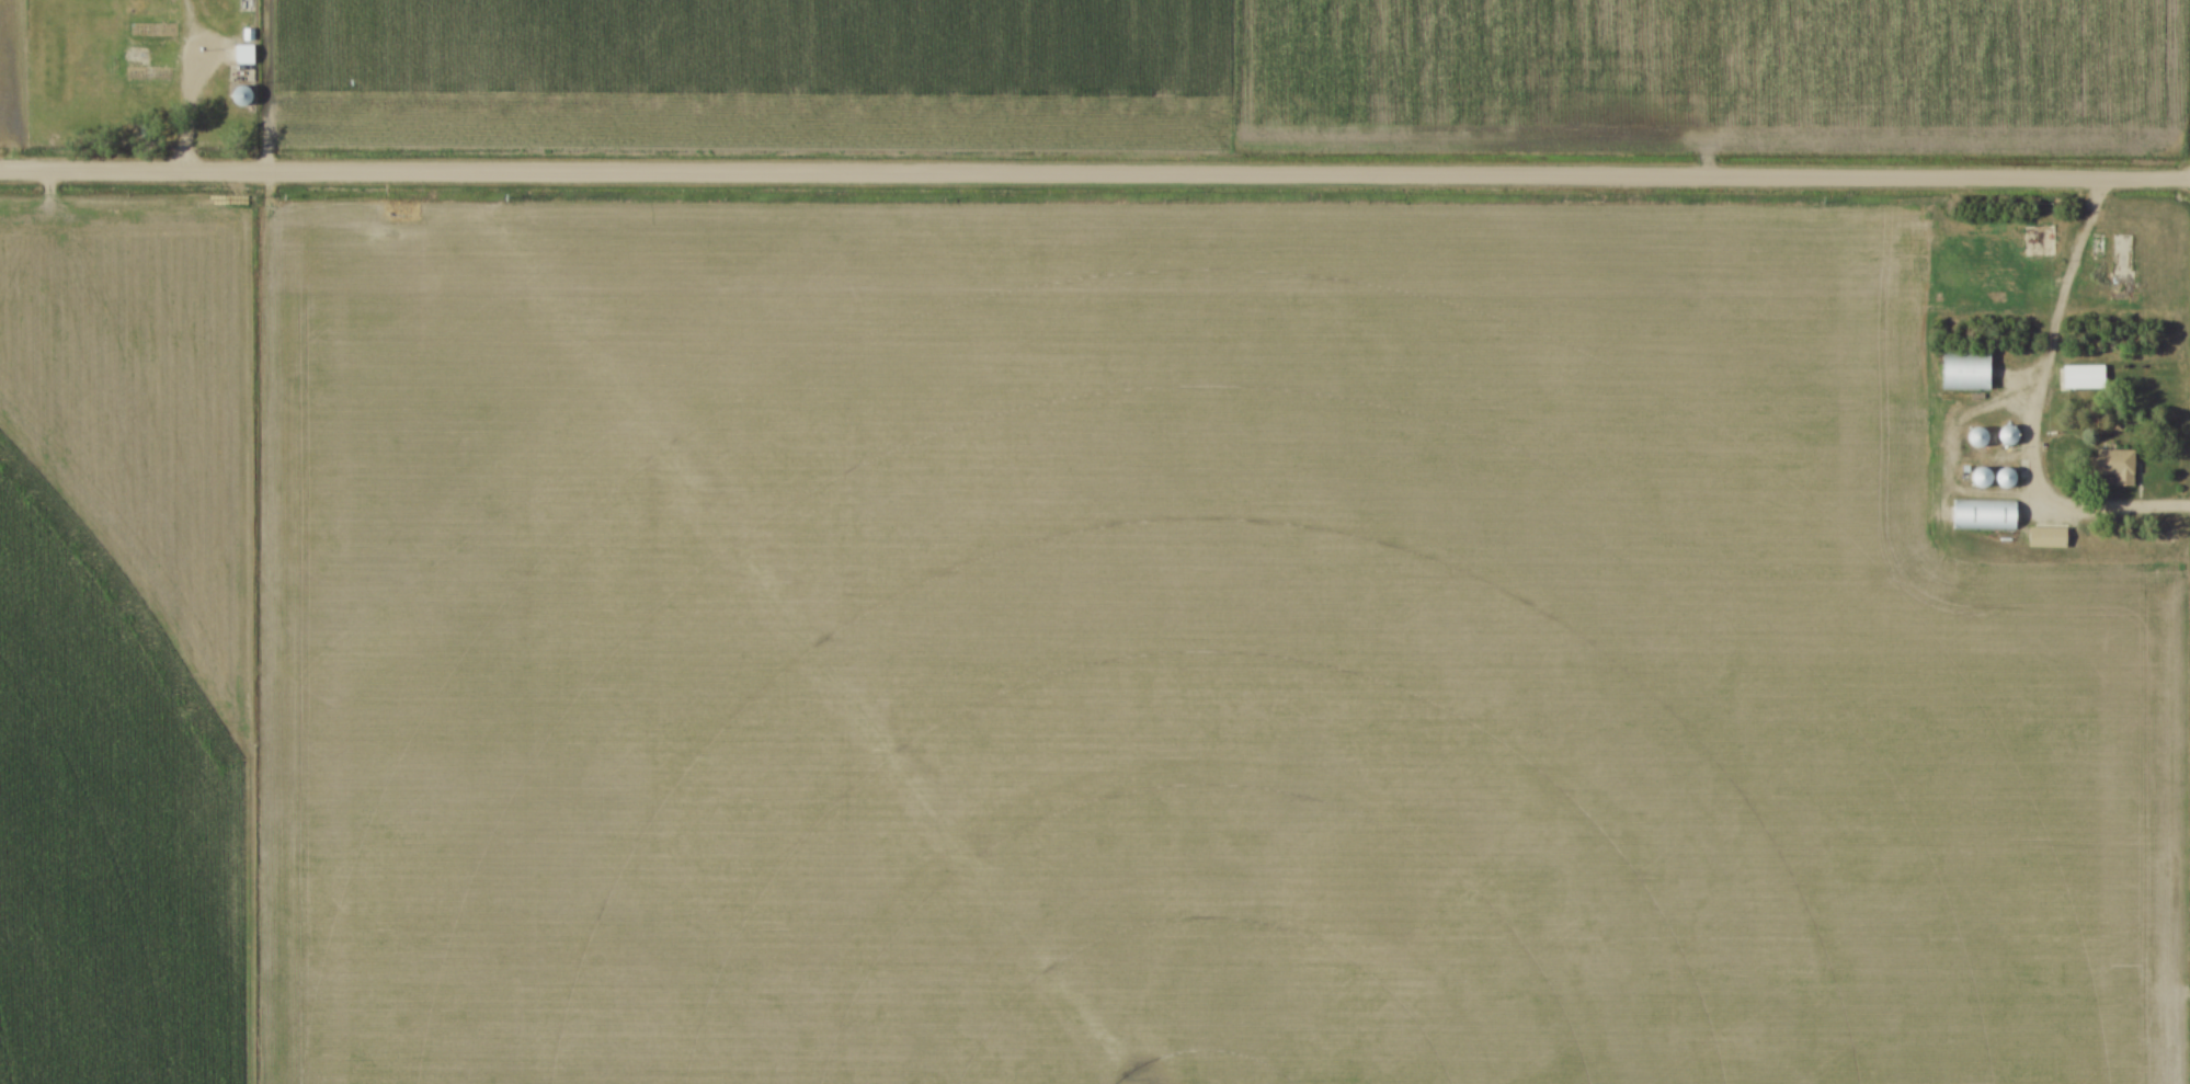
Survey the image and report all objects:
building: (220, 5)
building: (248, 38)
building: (243, 58)
road: (210, 66)
crop: (9, 69)
building: (148, 75)
crop: (1245, 79)
building: (242, 94)
silo: (241, 99)
road: (1095, 175)
building: (2095, 243)
building: (1963, 369)
building: (2078, 376)
road: (2031, 408)
silo: (2005, 434)
building: (2007, 434)
silo: (1973, 435)
building: (1977, 436)
building: (2115, 467)
silo: (2001, 475)
silo: (1976, 476)
building: (2006, 477)
building: (1981, 510)
building: (2043, 535)
crop: (1040, 657)

